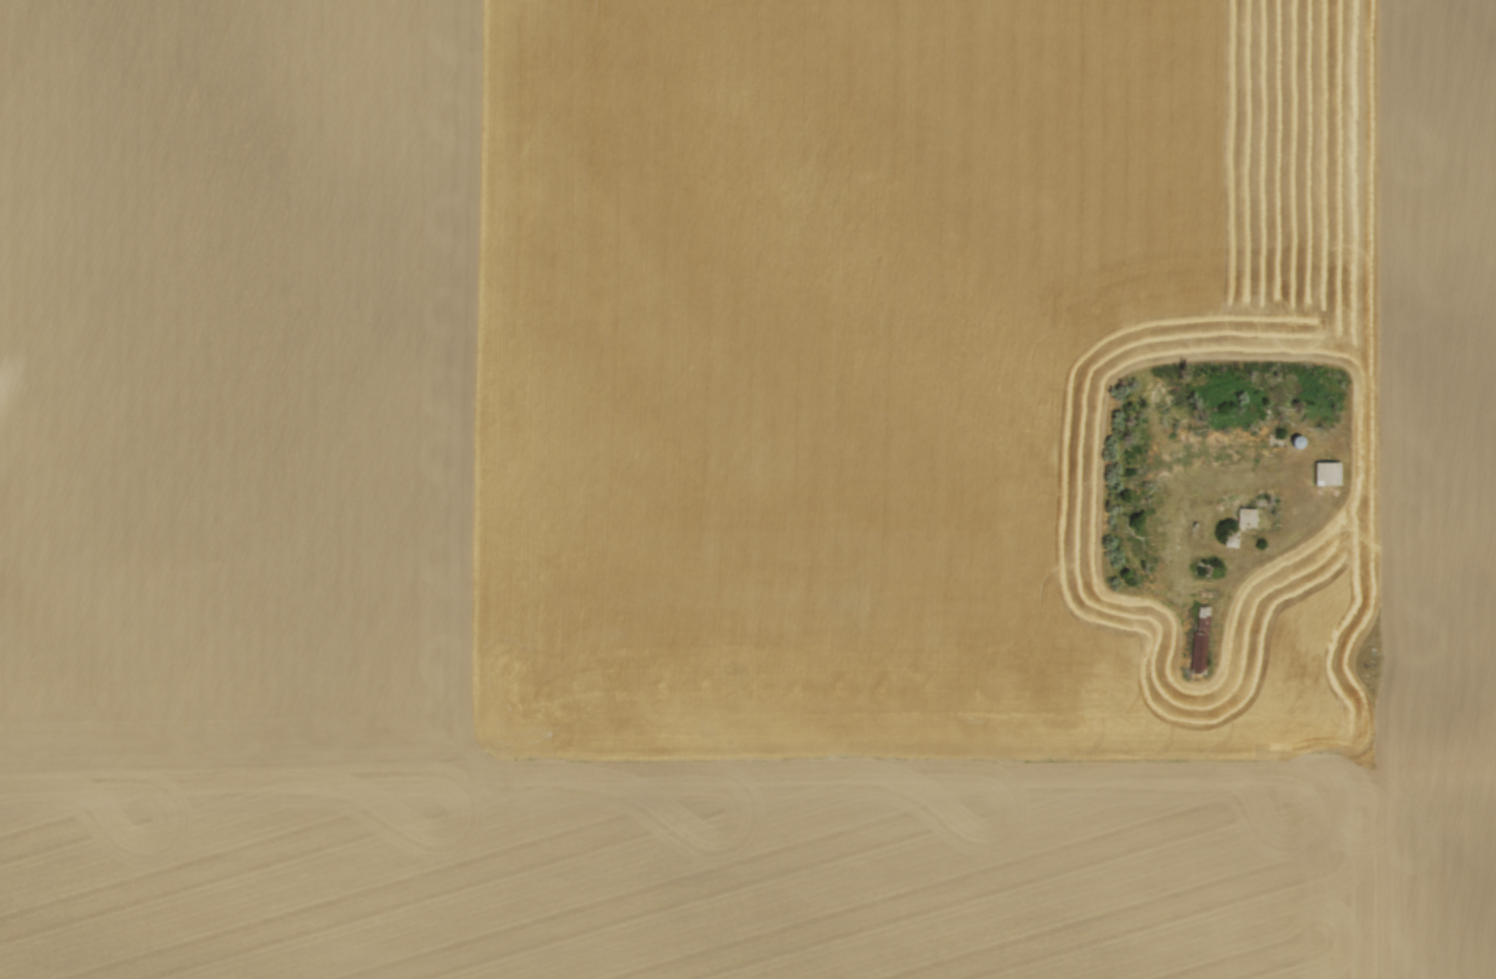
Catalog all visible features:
road: (1370, 226)
building: (1294, 441)
building: (1327, 472)
crop: (748, 489)
building: (1247, 517)
building: (1202, 638)

